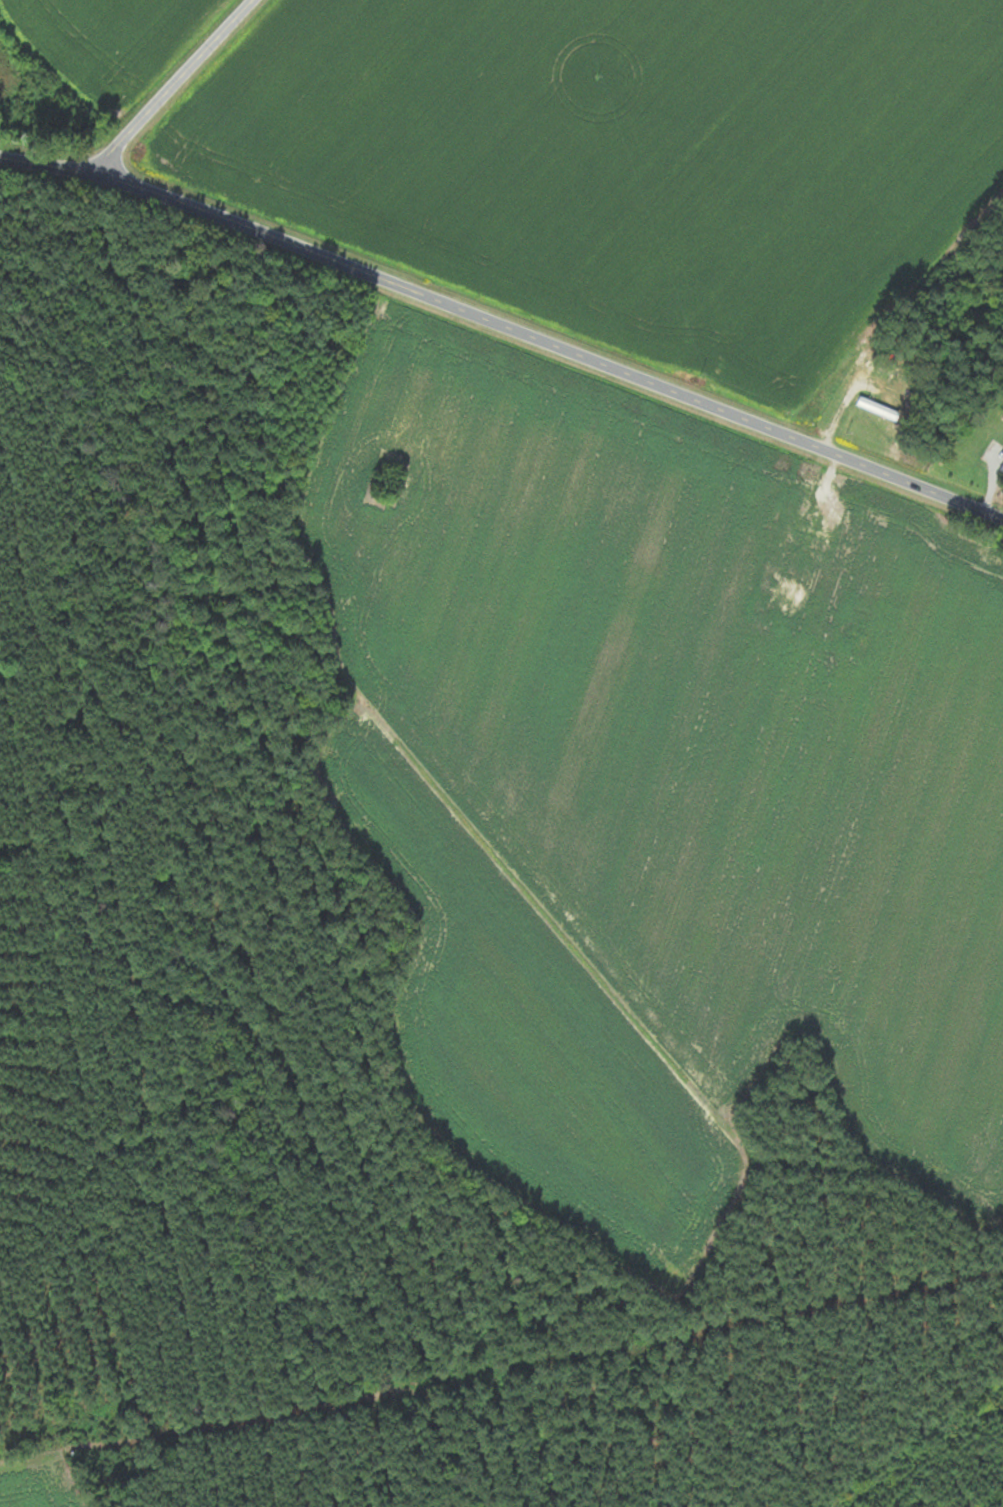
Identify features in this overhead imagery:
road: (173, 87)
road: (505, 326)
building: (856, 387)
building: (999, 466)

